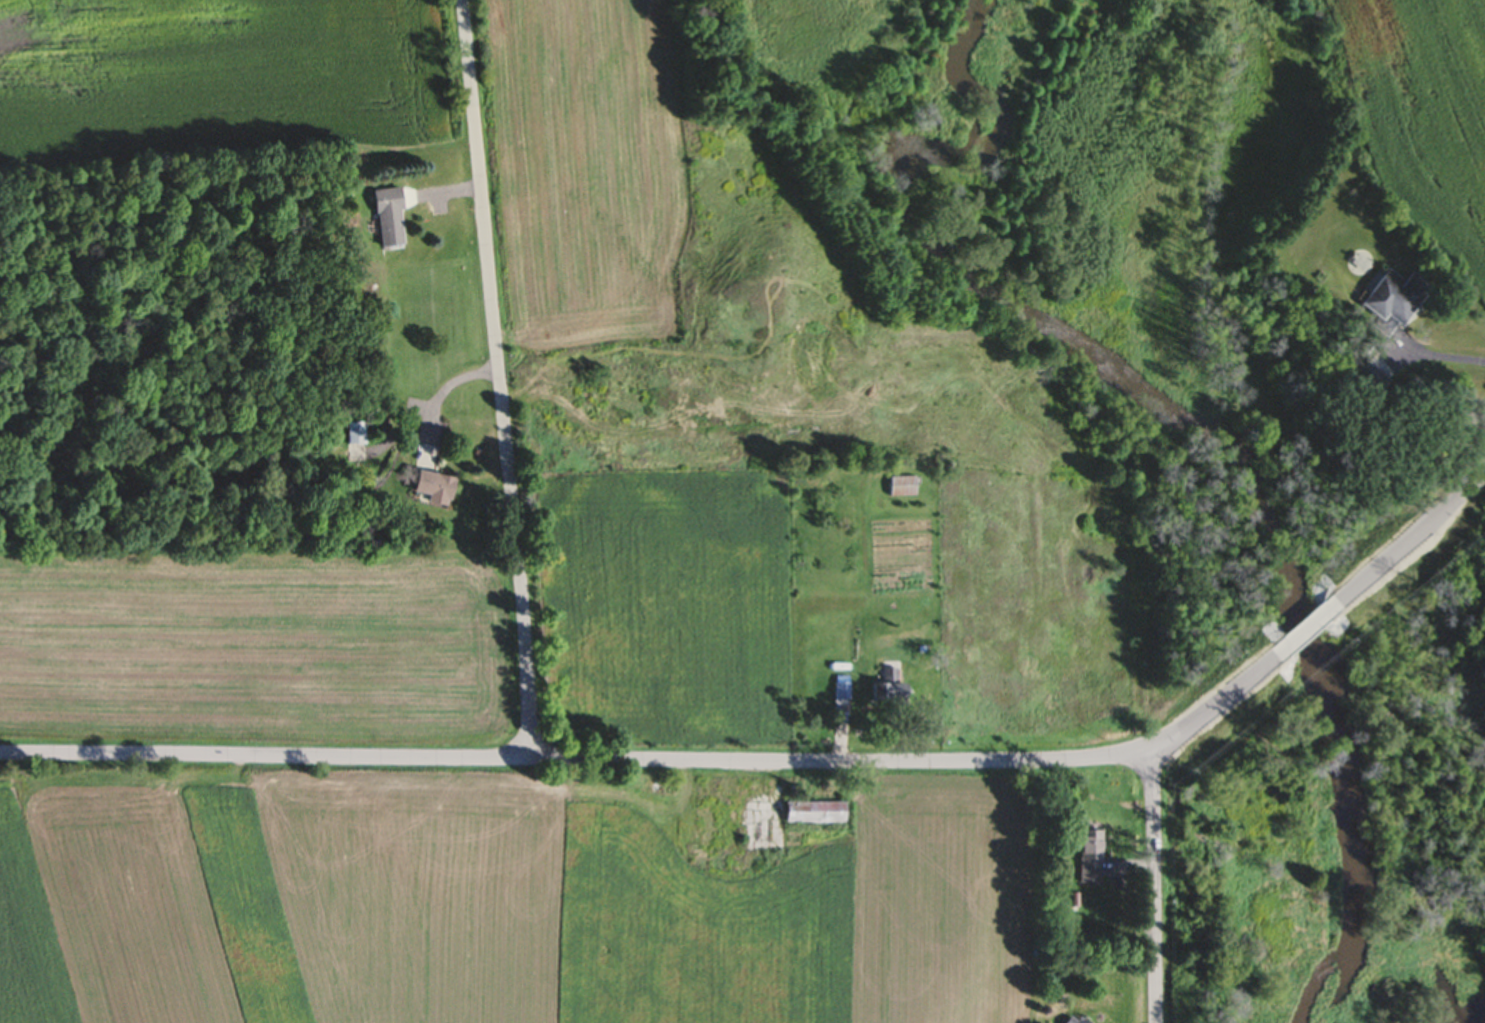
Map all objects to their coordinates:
building: (384, 219)
building: (1389, 301)
road: (1439, 355)
road: (501, 380)
road: (440, 394)
river: (1176, 421)
building: (897, 488)
building: (429, 490)
road: (1402, 551)
road: (1303, 635)
building: (884, 690)
road: (660, 762)
building: (813, 814)
building: (720, 829)
building: (1086, 860)
road: (1156, 884)
building: (1069, 1020)

